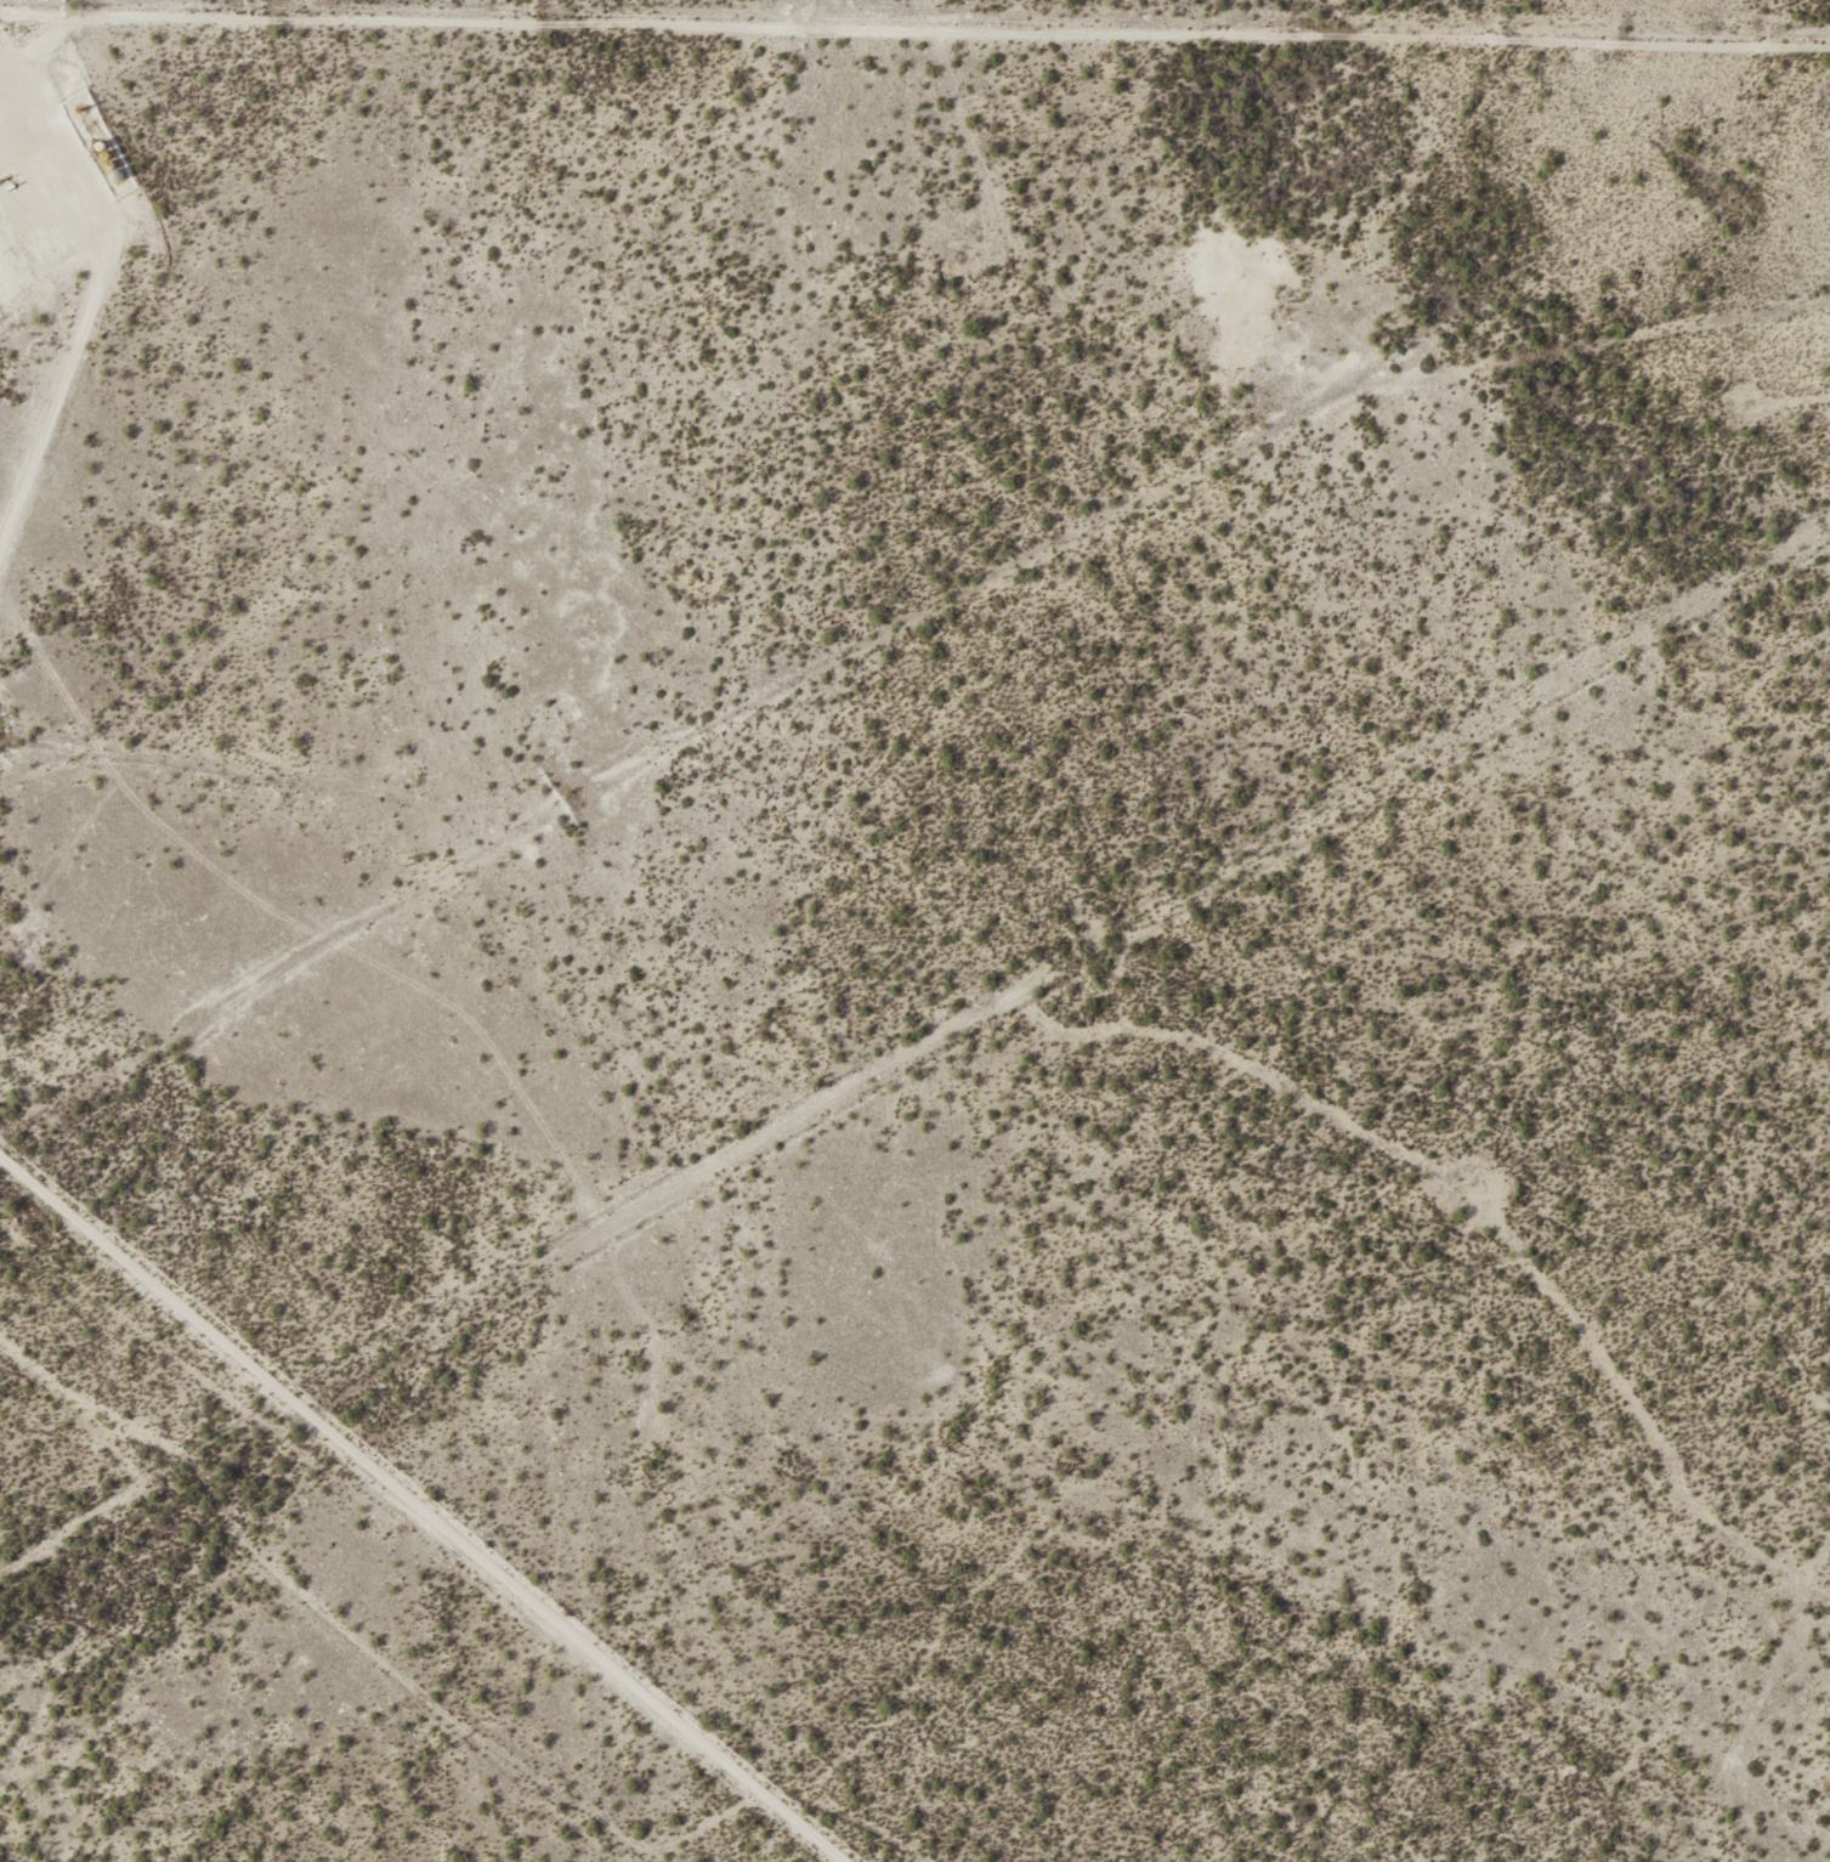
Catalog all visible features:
road: (1603, 339)

